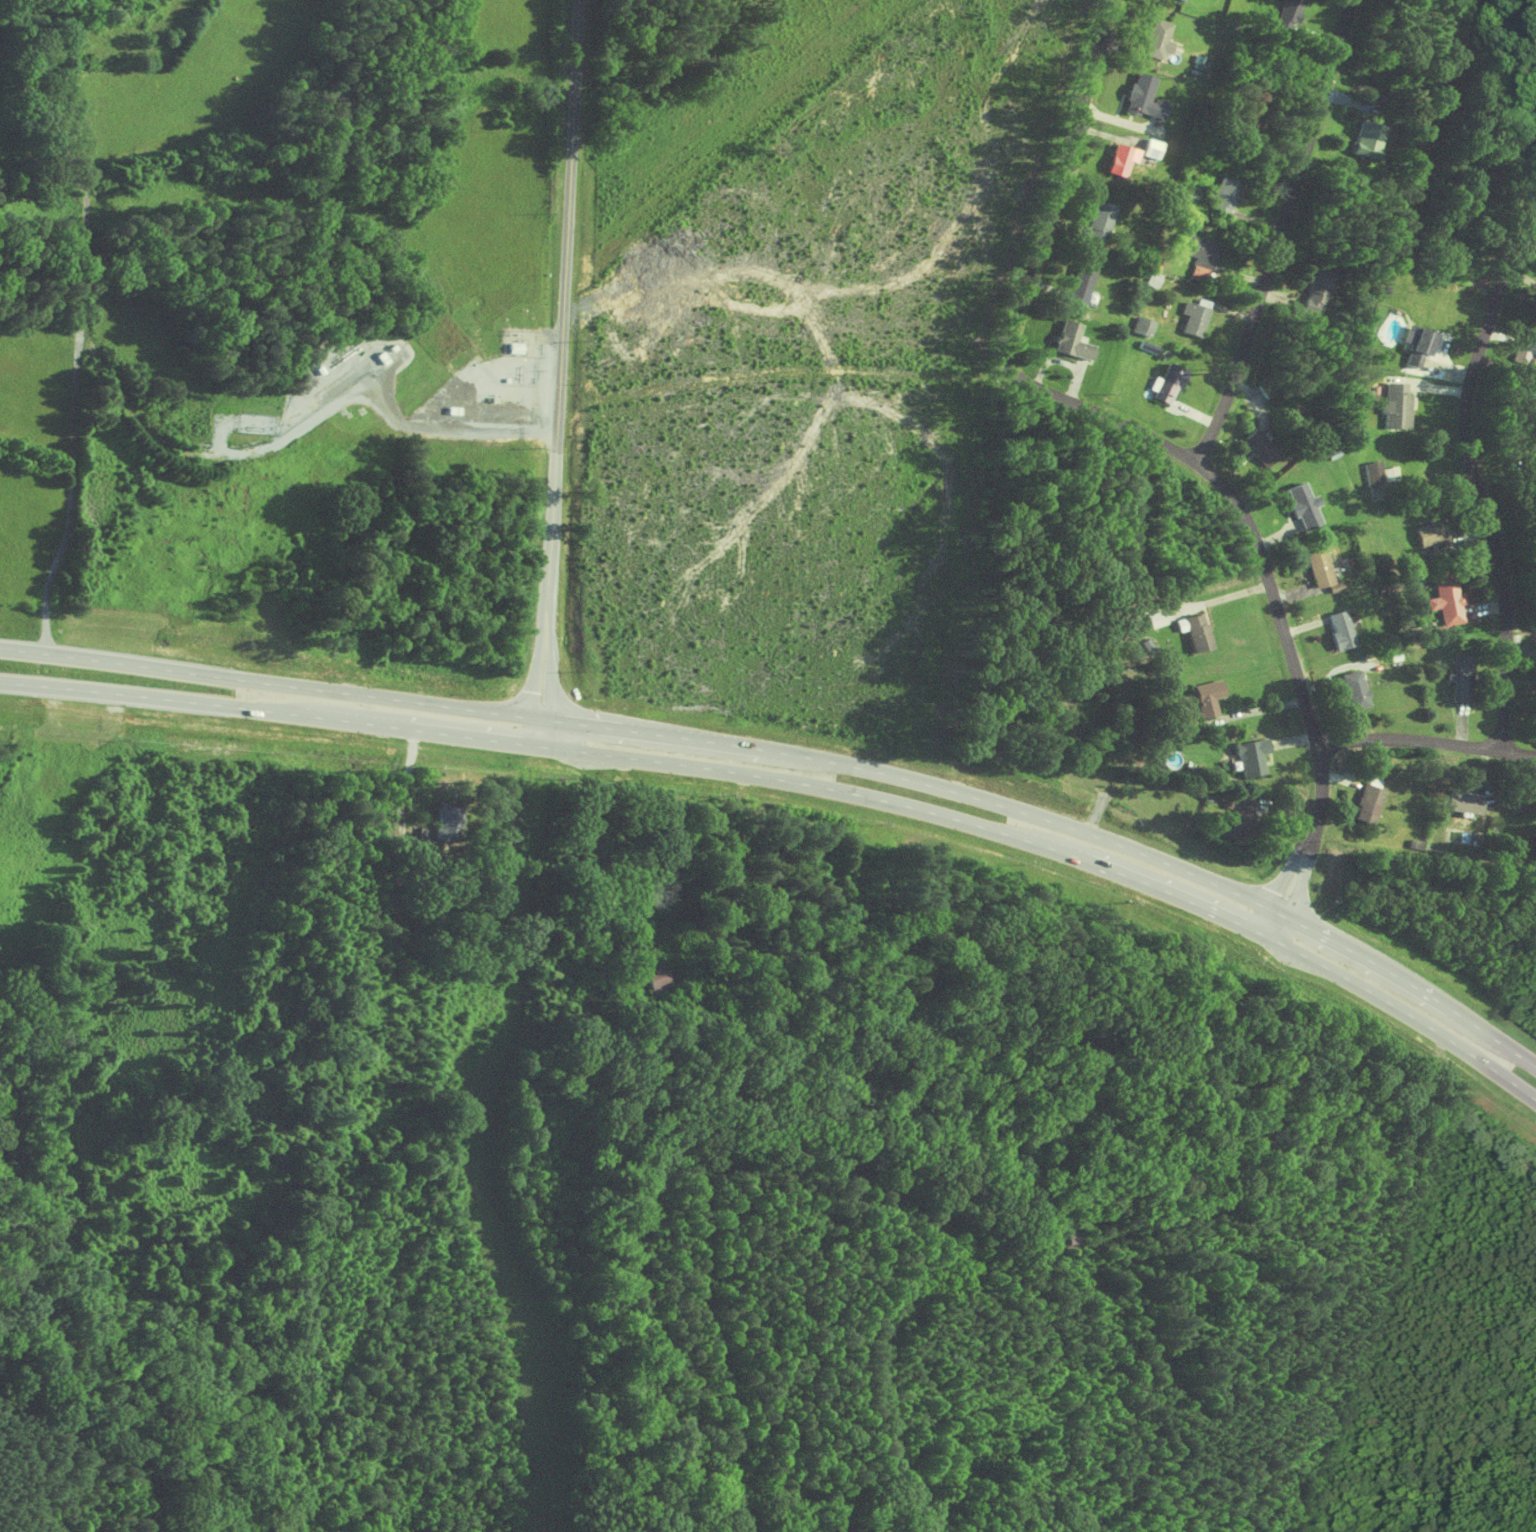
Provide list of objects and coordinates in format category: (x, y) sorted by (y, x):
building: (1179, 0)
building: (1154, 39)
building: (1142, 96)
building: (1365, 137)
building: (1148, 148)
building: (1118, 159)
building: (1222, 195)
building: (1097, 219)
road: (1279, 233)
building: (1198, 251)
building: (1077, 282)
building: (1311, 294)
road: (77, 319)
building: (1191, 319)
building: (1140, 327)
building: (1070, 342)
building: (1414, 345)
building: (511, 347)
road: (559, 373)
building: (1167, 384)
building: (1394, 406)
road: (455, 427)
road: (1161, 442)
building: (1256, 448)
road: (1471, 461)
building: (1377, 472)
building: (1299, 504)
building: (1429, 534)
building: (1316, 567)
building: (1333, 586)
building: (1445, 600)
building: (1337, 628)
building: (1192, 630)
building: (1459, 677)
road: (273, 682)
building: (1351, 689)
building: (1204, 697)
road: (272, 710)
road: (1426, 742)
building: (1248, 756)
road: (921, 782)
building: (1460, 801)
building: (1366, 803)
road: (914, 807)
building: (1239, 818)
building: (439, 820)
building: (652, 977)
road: (1410, 984)
road: (1405, 1012)
building: (1072, 1236)

